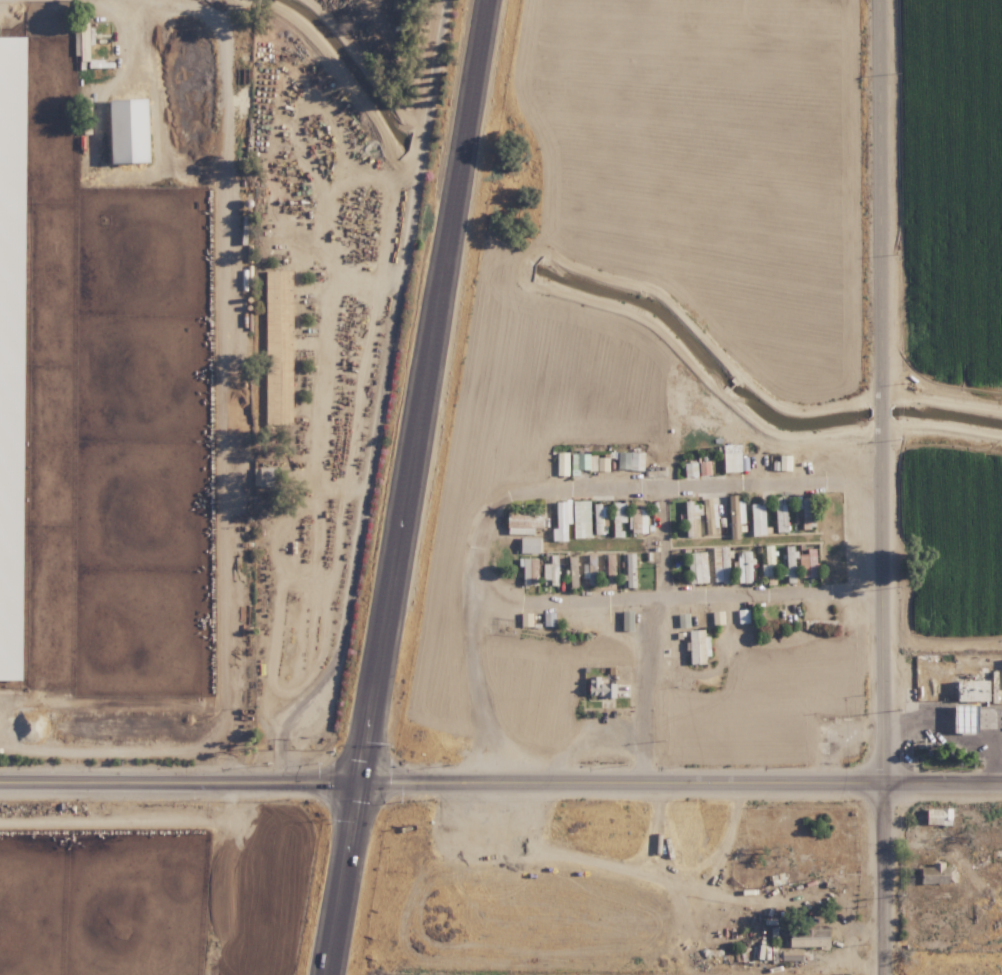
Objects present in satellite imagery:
building: (85, 44)
building: (15, 49)
building: (134, 130)
crop: (952, 312)
building: (277, 315)
crop: (126, 384)
road: (381, 394)
road: (225, 446)
building: (734, 458)
building: (589, 462)
building: (786, 462)
building: (561, 463)
building: (267, 476)
road: (404, 487)
road: (882, 487)
building: (808, 504)
building: (620, 511)
building: (582, 518)
building: (598, 518)
building: (564, 519)
building: (638, 520)
building: (781, 520)
road: (481, 521)
building: (525, 522)
building: (809, 522)
building: (758, 524)
road: (665, 537)
building: (530, 545)
building: (771, 559)
building: (800, 561)
building: (746, 566)
building: (590, 567)
building: (699, 567)
building: (552, 569)
building: (573, 569)
building: (631, 570)
building: (530, 571)
road: (772, 588)
building: (548, 618)
building: (525, 619)
building: (700, 646)
road: (474, 672)
building: (600, 687)
building: (974, 691)
building: (970, 719)
road: (948, 736)
road: (942, 771)
traffic signals: (357, 772)
road: (441, 772)
road: (143, 824)
building: (939, 873)
road: (255, 886)
crop: (162, 888)
building: (811, 937)

